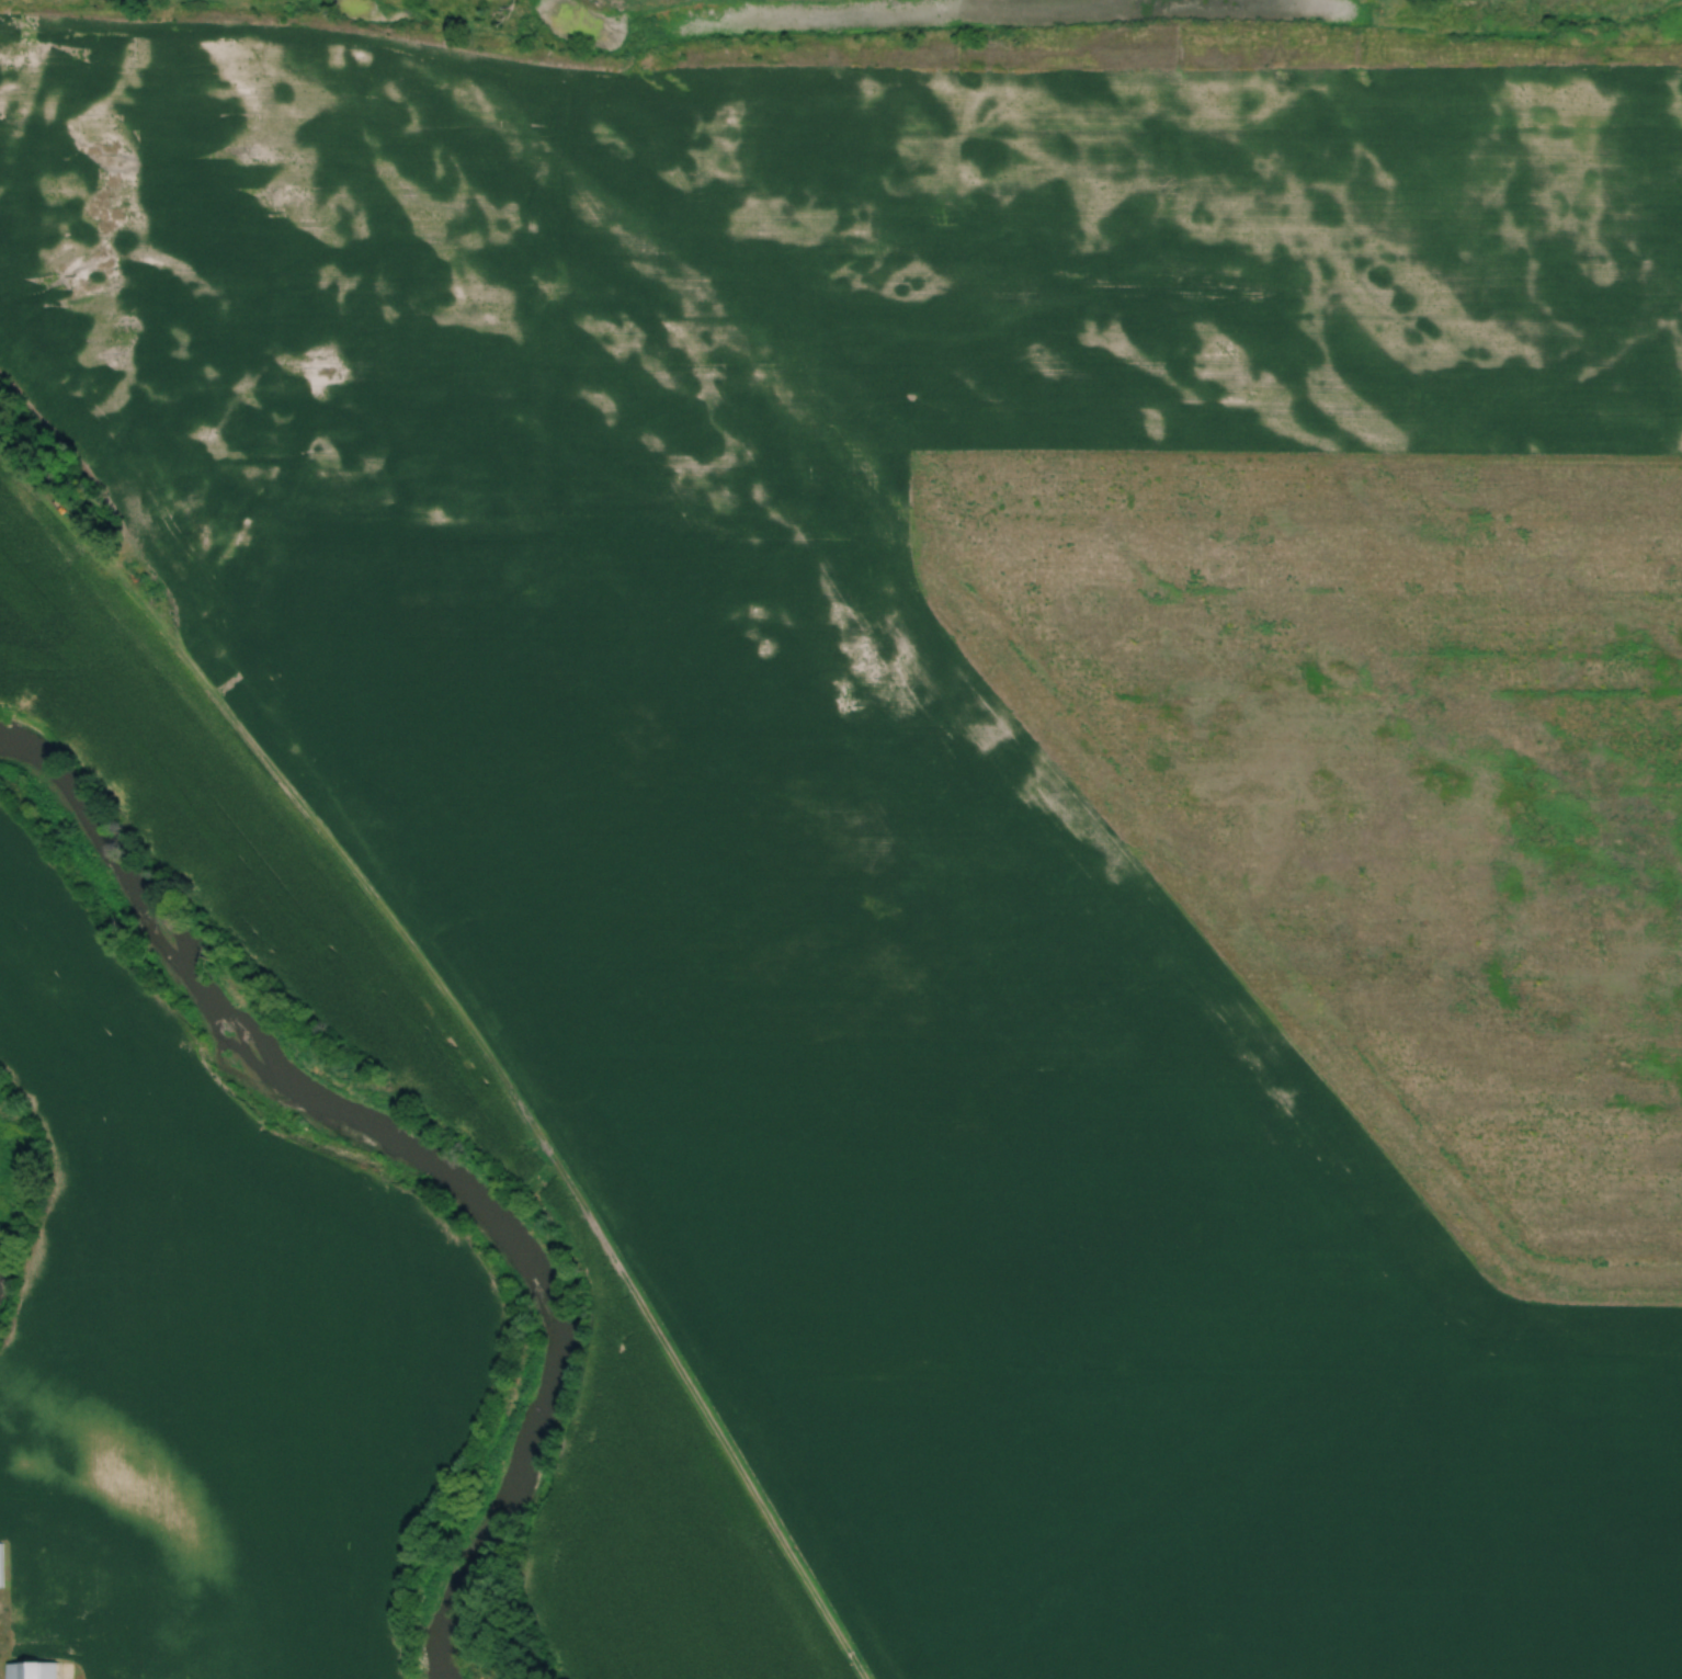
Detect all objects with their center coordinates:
river: (433, 1143)
building: (1, 1565)
building: (55, 1599)
building: (33, 1670)

